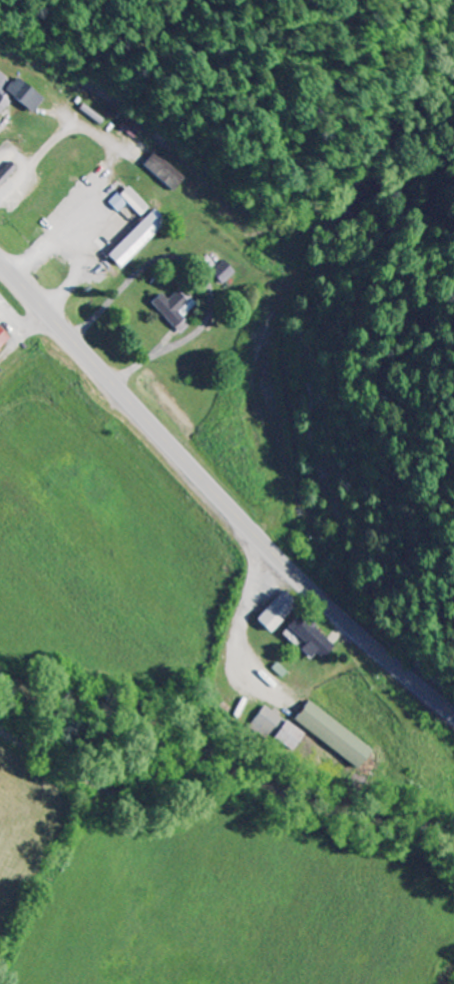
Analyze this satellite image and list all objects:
building: (17, 95)
building: (163, 173)
building: (128, 202)
building: (134, 240)
building: (221, 273)
building: (175, 310)
building: (3, 341)
road: (219, 498)
building: (274, 612)
building: (303, 638)
building: (273, 729)
building: (329, 735)
river: (238, 746)

